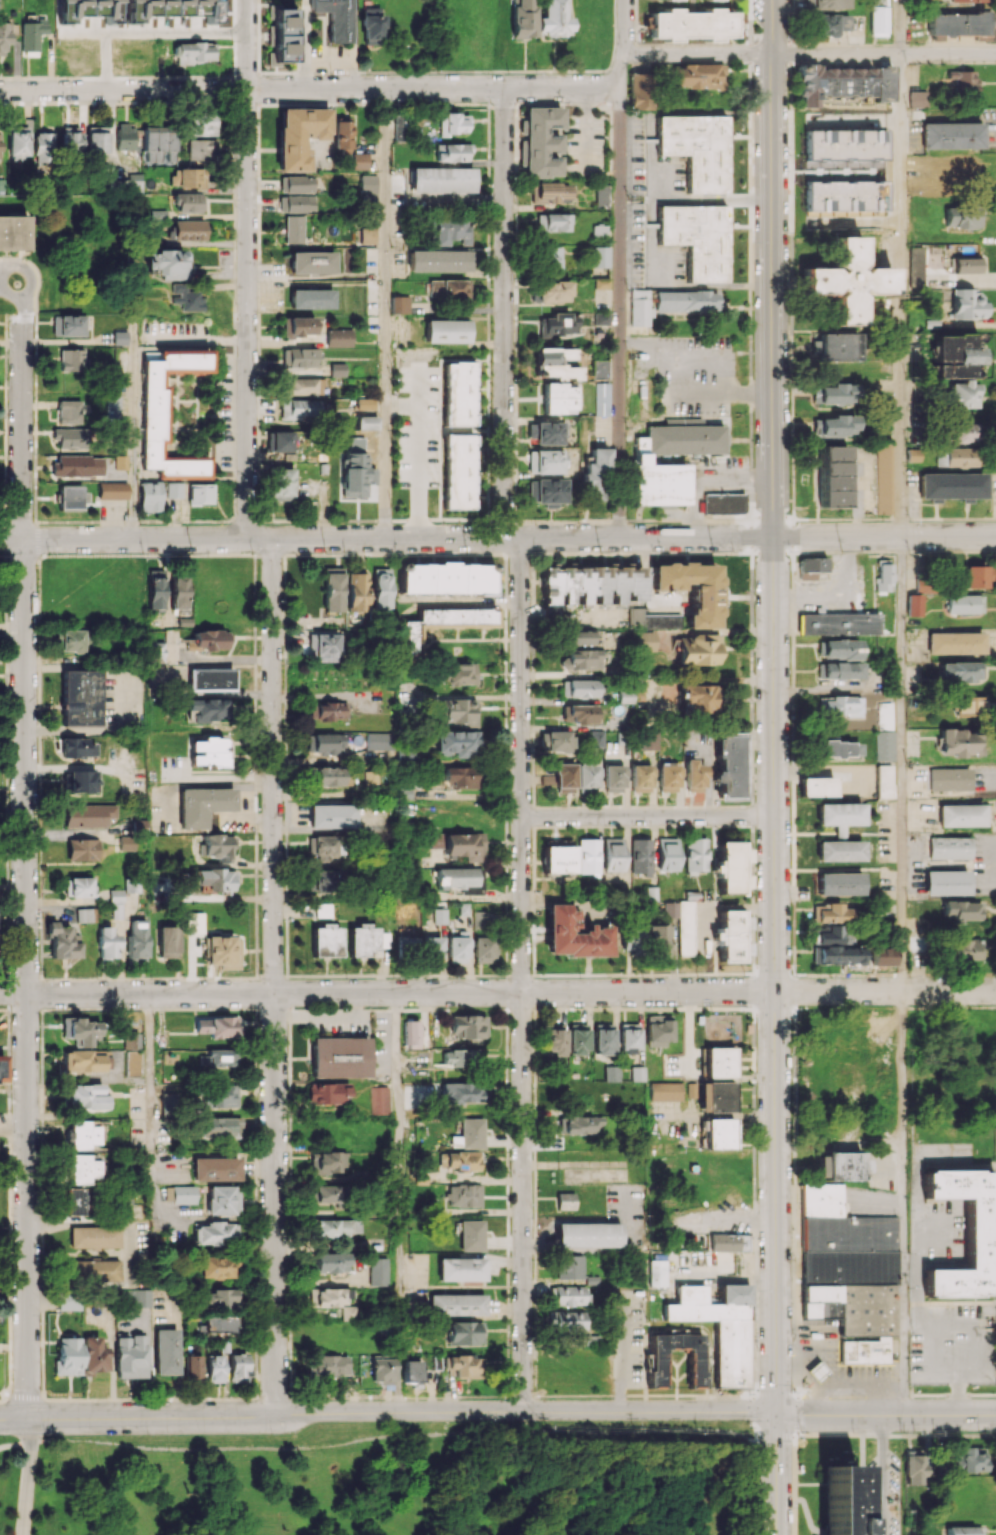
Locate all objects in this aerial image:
building: (669, 0)
building: (709, 0)
building: (965, 1)
building: (827, 4)
building: (171, 8)
building: (78, 9)
building: (111, 11)
building: (878, 17)
building: (335, 18)
building: (522, 19)
building: (553, 19)
building: (957, 23)
building: (829, 24)
building: (689, 25)
building: (372, 26)
road: (898, 26)
road: (770, 27)
road: (147, 32)
building: (31, 34)
building: (4, 35)
building: (283, 37)
building: (194, 52)
road: (883, 53)
road: (697, 54)
building: (697, 75)
building: (962, 81)
building: (841, 83)
road: (310, 89)
building: (639, 91)
building: (917, 99)
building: (451, 123)
building: (202, 125)
building: (863, 126)
building: (299, 135)
building: (950, 135)
building: (125, 136)
building: (342, 137)
building: (70, 138)
building: (541, 141)
building: (17, 142)
building: (158, 142)
building: (97, 143)
building: (43, 146)
building: (0, 147)
building: (200, 148)
building: (698, 149)
building: (450, 152)
building: (359, 160)
building: (188, 177)
building: (440, 180)
building: (130, 183)
building: (367, 183)
building: (296, 184)
building: (549, 192)
road: (459, 196)
building: (601, 196)
building: (188, 202)
parking lot: (14, 203)
building: (296, 203)
building: (962, 217)
building: (553, 222)
building: (293, 228)
building: (189, 230)
building: (449, 231)
building: (598, 232)
building: (12, 234)
building: (366, 235)
building: (698, 240)
building: (599, 256)
building: (549, 257)
building: (437, 260)
building: (312, 262)
building: (167, 264)
building: (966, 265)
road: (1, 266)
road: (247, 268)
road: (621, 268)
building: (914, 268)
road: (35, 280)
building: (600, 282)
building: (844, 284)
building: (448, 289)
building: (552, 291)
road: (899, 294)
building: (185, 297)
building: (312, 298)
building: (687, 300)
building: (967, 303)
building: (398, 304)
building: (639, 307)
road: (385, 313)
building: (601, 317)
building: (67, 325)
building: (555, 325)
building: (298, 326)
building: (445, 331)
parking lot: (171, 333)
building: (119, 337)
building: (338, 337)
building: (838, 346)
building: (956, 356)
building: (298, 357)
building: (71, 359)
road: (701, 361)
building: (554, 363)
building: (337, 369)
building: (301, 386)
building: (458, 393)
building: (835, 394)
building: (962, 395)
building: (558, 398)
building: (601, 398)
road: (185, 400)
building: (364, 403)
road: (234, 408)
building: (298, 408)
building: (112, 409)
road: (216, 410)
parking lot: (228, 410)
building: (68, 411)
road: (198, 415)
road: (208, 415)
building: (153, 416)
road: (175, 416)
building: (366, 422)
building: (838, 425)
road: (133, 426)
road: (185, 428)
building: (958, 432)
building: (548, 433)
building: (71, 437)
building: (282, 441)
building: (912, 454)
road: (414, 456)
building: (956, 457)
building: (120, 461)
building: (545, 461)
building: (676, 464)
building: (77, 465)
building: (355, 470)
building: (457, 471)
building: (595, 475)
building: (831, 475)
building: (883, 478)
building: (280, 481)
building: (950, 486)
building: (112, 490)
building: (173, 490)
road: (234, 490)
building: (546, 491)
building: (199, 493)
building: (149, 496)
building: (70, 497)
building: (722, 502)
road: (497, 537)
building: (810, 567)
building: (976, 576)
building: (883, 577)
building: (445, 579)
building: (590, 584)
building: (924, 585)
building: (332, 589)
building: (380, 589)
building: (155, 590)
building: (690, 590)
building: (178, 592)
building: (356, 592)
building: (963, 603)
building: (913, 604)
building: (653, 619)
building: (838, 623)
building: (443, 624)
building: (578, 637)
building: (72, 639)
building: (206, 640)
building: (643, 640)
building: (954, 643)
building: (324, 645)
building: (837, 648)
building: (699, 649)
building: (156, 651)
building: (580, 659)
building: (839, 670)
building: (959, 671)
road: (572, 672)
building: (454, 674)
building: (209, 679)
building: (578, 688)
road: (112, 694)
building: (80, 697)
building: (697, 697)
building: (968, 705)
building: (840, 706)
building: (207, 710)
building: (328, 710)
building: (456, 710)
building: (577, 713)
building: (884, 714)
road: (774, 732)
building: (595, 738)
building: (379, 740)
building: (555, 741)
building: (960, 742)
building: (327, 743)
building: (455, 743)
building: (883, 745)
building: (76, 747)
road: (521, 747)
building: (839, 748)
building: (209, 752)
road: (901, 763)
building: (693, 775)
building: (328, 776)
building: (461, 776)
building: (586, 776)
building: (613, 777)
building: (639, 777)
building: (666, 777)
building: (370, 778)
building: (564, 778)
building: (949, 779)
building: (80, 780)
building: (884, 781)
building: (816, 787)
building: (202, 805)
building: (89, 815)
building: (331, 815)
building: (839, 815)
building: (960, 815)
road: (647, 816)
building: (436, 840)
building: (218, 846)
building: (322, 846)
building: (464, 846)
building: (948, 847)
building: (82, 849)
building: (839, 850)
building: (613, 854)
building: (667, 854)
building: (695, 854)
building: (587, 855)
building: (640, 856)
building: (558, 857)
road: (24, 858)
road: (752, 866)
building: (730, 867)
building: (455, 877)
building: (214, 879)
building: (323, 880)
building: (945, 882)
building: (839, 883)
building: (78, 886)
building: (116, 904)
building: (322, 910)
building: (961, 910)
building: (831, 913)
building: (85, 914)
building: (439, 915)
building: (681, 923)
building: (574, 934)
building: (729, 934)
building: (832, 935)
building: (631, 937)
building: (658, 937)
building: (325, 940)
building: (366, 940)
building: (136, 941)
building: (167, 941)
building: (406, 941)
building: (62, 942)
building: (107, 943)
building: (457, 947)
building: (431, 949)
building: (484, 949)
building: (964, 949)
building: (223, 951)
building: (839, 955)
building: (881, 956)
street lamp: (504, 975)
road: (273, 977)
road: (497, 992)
street lamp: (681, 1004)
road: (324, 1014)
building: (216, 1026)
building: (468, 1026)
building: (80, 1030)
building: (658, 1030)
building: (410, 1032)
building: (851, 1032)
building: (629, 1037)
building: (578, 1038)
building: (603, 1038)
building: (554, 1039)
building: (129, 1041)
building: (339, 1057)
building: (218, 1058)
building: (459, 1058)
building: (84, 1060)
building: (718, 1062)
building: (131, 1063)
building: (2, 1068)
building: (611, 1073)
building: (637, 1073)
street lamp: (757, 1081)
building: (885, 1084)
road: (149, 1085)
building: (665, 1091)
building: (463, 1092)
building: (326, 1093)
building: (968, 1093)
building: (85, 1096)
building: (218, 1096)
building: (716, 1097)
building: (378, 1100)
building: (167, 1104)
building: (578, 1124)
road: (13, 1126)
building: (219, 1127)
building: (719, 1133)
building: (469, 1134)
building: (81, 1135)
building: (459, 1160)
building: (327, 1162)
building: (839, 1165)
street lamp: (511, 1168)
building: (82, 1169)
building: (215, 1169)
street lamp: (791, 1181)
building: (330, 1193)
building: (182, 1194)
building: (463, 1195)
building: (222, 1200)
building: (565, 1200)
building: (76, 1201)
road: (397, 1201)
building: (818, 1201)
road: (903, 1202)
street lamp: (11, 1214)
street lamp: (647, 1214)
road: (732, 1219)
building: (338, 1227)
building: (216, 1233)
building: (588, 1234)
building: (471, 1235)
building: (964, 1235)
building: (93, 1236)
building: (727, 1242)
road: (603, 1249)
building: (847, 1250)
street lamp: (511, 1255)
building: (331, 1262)
building: (216, 1267)
building: (569, 1267)
building: (460, 1269)
building: (93, 1270)
building: (377, 1271)
building: (659, 1276)
street lamp: (755, 1289)
building: (568, 1295)
building: (135, 1297)
building: (327, 1297)
building: (218, 1298)
building: (69, 1301)
building: (815, 1301)
building: (455, 1304)
building: (863, 1309)
building: (349, 1312)
building: (566, 1320)
street lamp: (40, 1322)
building: (219, 1324)
building: (465, 1332)
park: (4, 1342)
street lamp: (510, 1342)
parking lot: (952, 1345)
building: (860, 1350)
building: (165, 1351)
parking lot: (831, 1351)
street lamp: (611, 1353)
building: (730, 1353)
road: (622, 1354)
building: (68, 1355)
building: (93, 1355)
building: (130, 1355)
street lamp: (259, 1356)
building: (698, 1362)
building: (215, 1365)
building: (193, 1366)
building: (327, 1366)
building: (464, 1366)
building: (238, 1367)
street lamp: (907, 1369)
building: (382, 1370)
building: (411, 1371)
building: (816, 1371)
street lamp: (11, 1376)
parking lot: (864, 1379)
street lamp: (792, 1391)
road: (950, 1394)
street lamp: (994, 1396)
road: (387, 1411)
traffic signals: (776, 1412)
road: (885, 1414)
street lamp: (395, 1420)
street lamp: (904, 1432)
street lamp: (147, 1433)
street lamp: (271, 1433)
street lamp: (697, 1433)
street lamp: (749, 1433)
street lamp: (44, 1434)
road: (391, 1436)
road: (13, 1443)
street lamp: (895, 1450)
building: (967, 1459)
road: (794, 1463)
building: (913, 1467)
road: (775, 1473)
road: (881, 1474)
road: (432, 1476)
road: (26, 1477)
park: (391, 1480)
road: (65, 1491)
building: (840, 1499)
street lamp: (759, 1501)
street lamp: (897, 1514)
building: (965, 1530)
building: (960, 1534)

